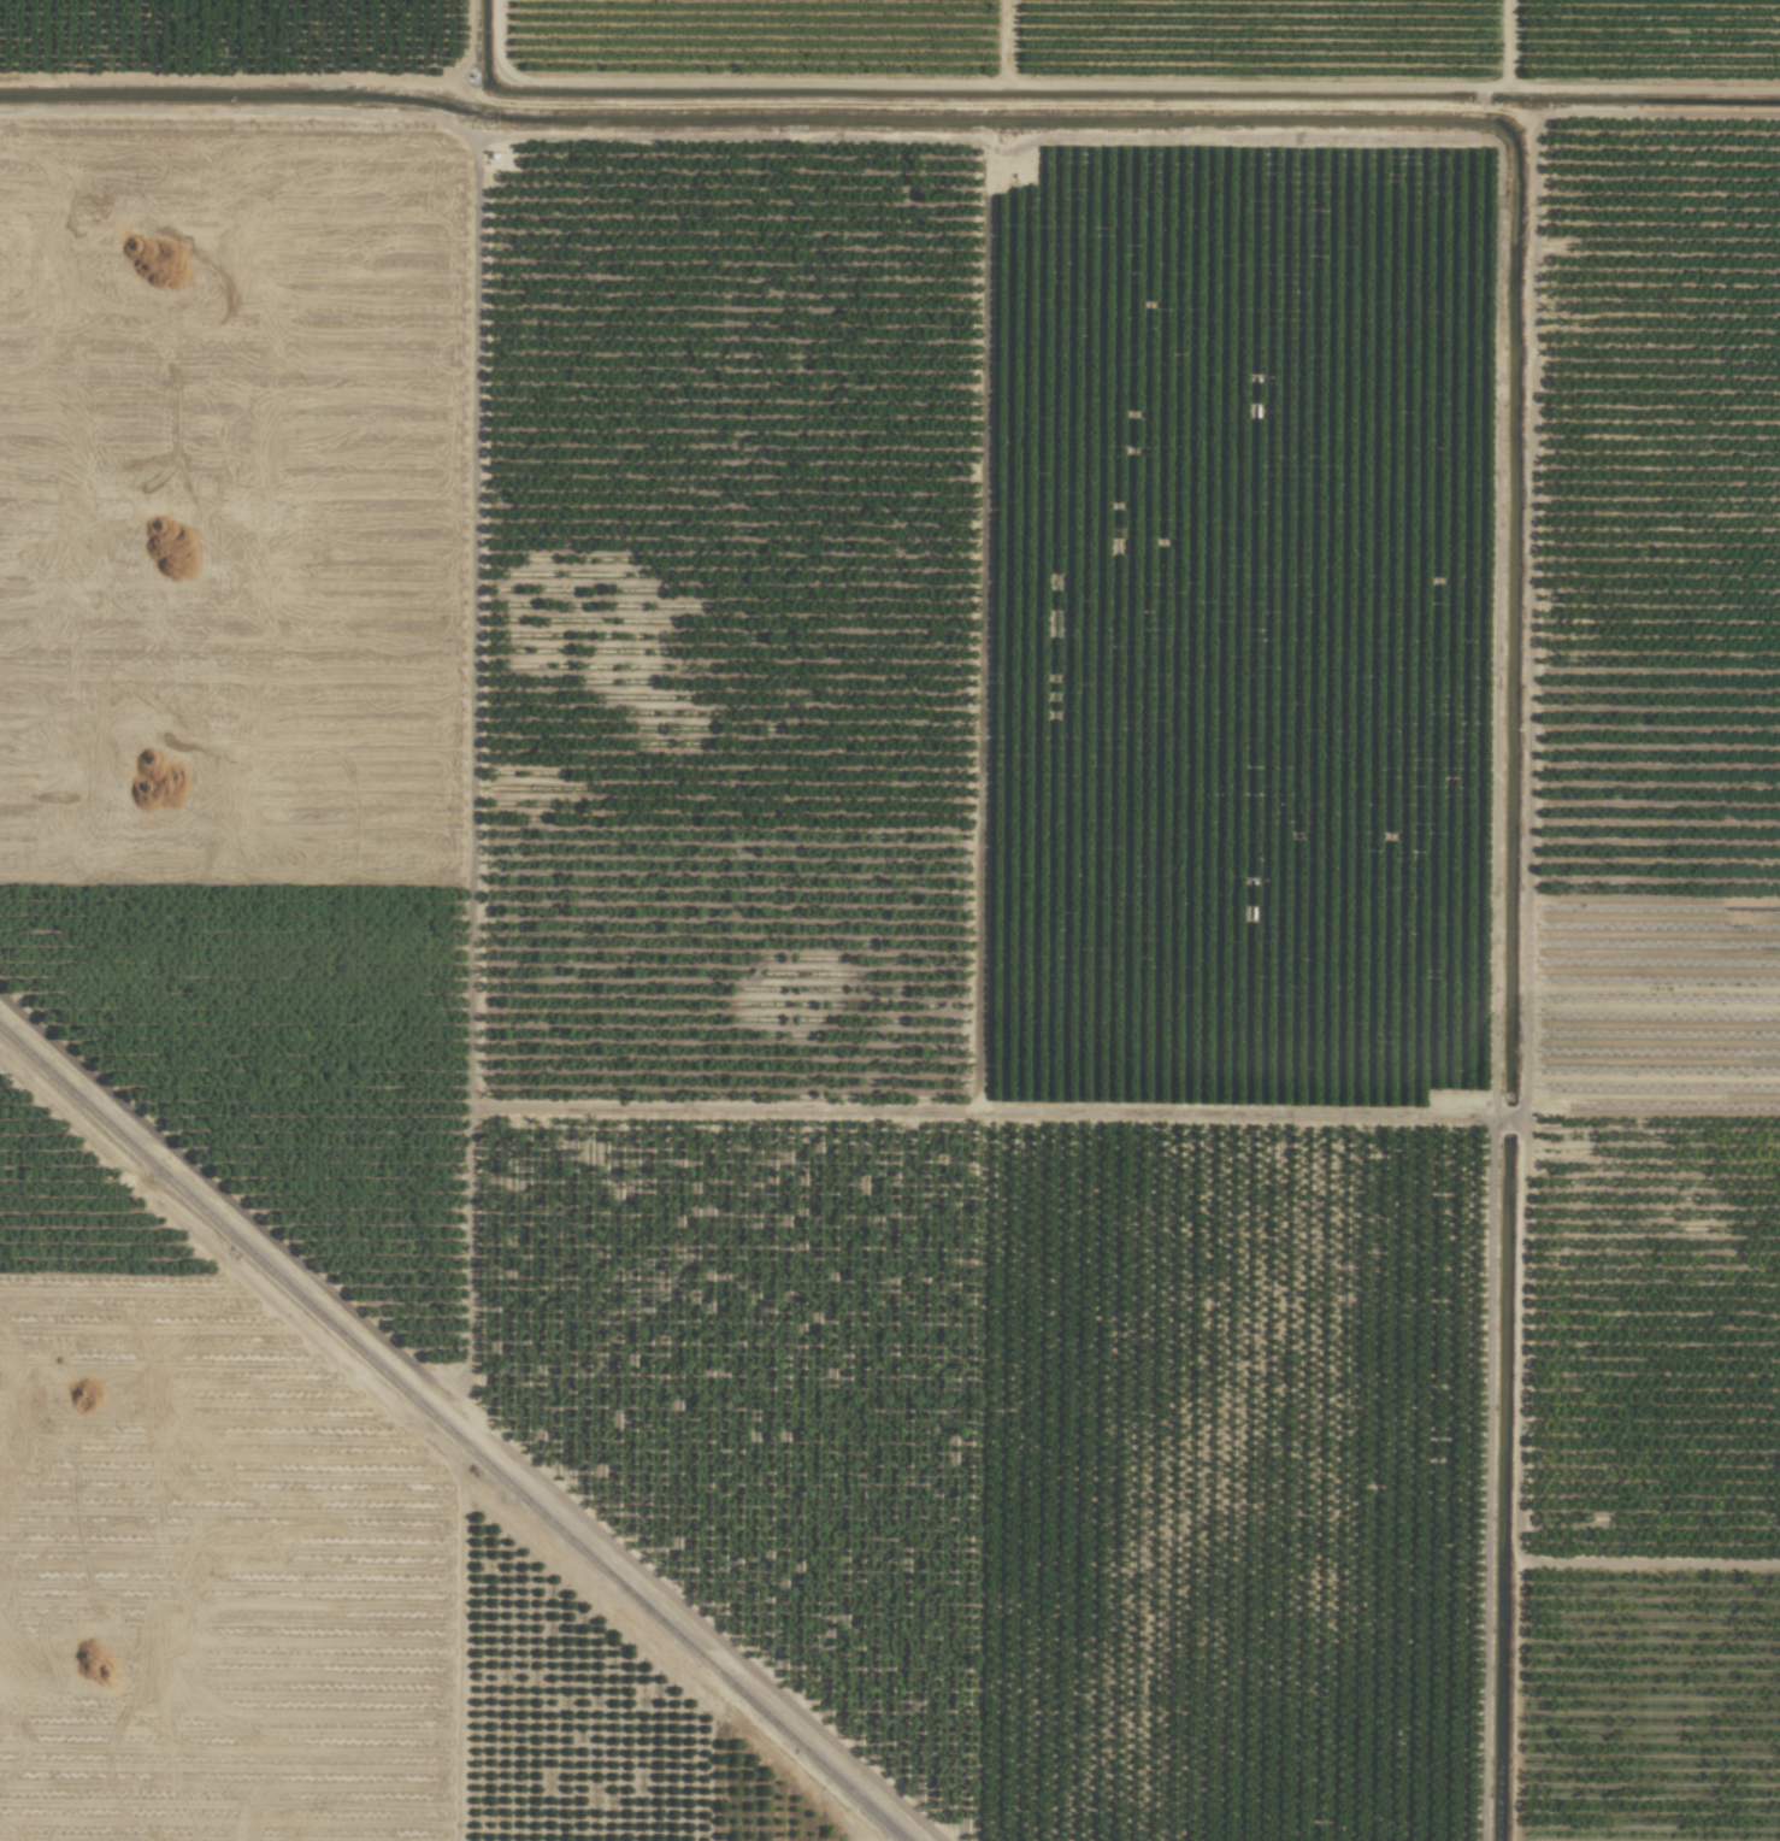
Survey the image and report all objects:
railway: (452, 1435)

